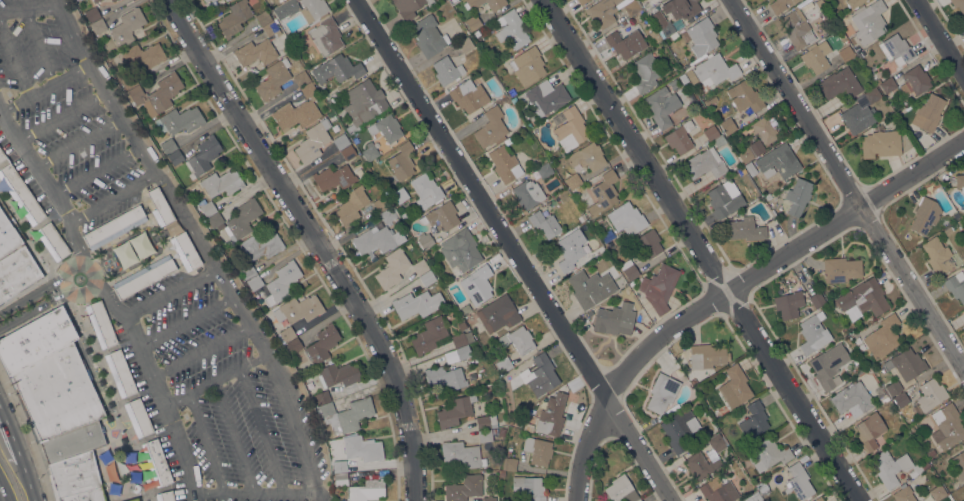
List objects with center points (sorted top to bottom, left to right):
building: (112, 0)
building: (224, 0)
building: (226, 0)
building: (95, 1)
building: (208, 1)
building: (582, 1)
building: (854, 3)
building: (819, 4)
building: (780, 5)
building: (958, 5)
building: (495, 6)
building: (409, 7)
building: (631, 7)
building: (681, 8)
road: (28, 9)
building: (302, 9)
building: (603, 12)
building: (824, 13)
building: (92, 14)
building: (234, 18)
building: (263, 18)
building: (473, 22)
building: (868, 22)
building: (663, 25)
building: (98, 26)
building: (127, 27)
building: (797, 29)
building: (271, 30)
building: (512, 30)
road: (70, 32)
building: (325, 36)
building: (428, 36)
building: (654, 36)
building: (702, 36)
road: (940, 38)
building: (625, 41)
building: (465, 45)
road: (39, 47)
building: (857, 49)
building: (896, 49)
building: (255, 52)
building: (846, 53)
building: (143, 56)
building: (816, 57)
road: (14, 59)
building: (528, 66)
building: (337, 69)
building: (446, 71)
building: (713, 71)
building: (646, 72)
building: (688, 72)
building: (273, 79)
building: (301, 79)
building: (915, 80)
building: (128, 81)
building: (674, 84)
building: (839, 84)
building: (888, 85)
road: (42, 90)
building: (309, 90)
building: (511, 92)
building: (157, 93)
building: (467, 95)
building: (872, 95)
building: (547, 97)
building: (744, 97)
building: (514, 100)
building: (712, 101)
building: (363, 105)
building: (662, 106)
building: (930, 112)
building: (296, 114)
building: (857, 118)
building: (179, 120)
building: (727, 125)
building: (386, 128)
building: (491, 128)
building: (571, 130)
building: (764, 130)
building: (711, 133)
building: (680, 138)
building: (734, 140)
building: (313, 141)
building: (341, 141)
building: (507, 141)
building: (719, 141)
building: (880, 144)
building: (168, 146)
building: (750, 150)
building: (348, 152)
building: (370, 153)
building: (2, 156)
building: (203, 156)
building: (587, 157)
building: (175, 158)
building: (375, 161)
building: (402, 161)
building: (778, 162)
building: (707, 163)
building: (505, 164)
road: (148, 167)
building: (750, 168)
building: (545, 170)
building: (334, 178)
building: (959, 180)
building: (573, 181)
building: (221, 183)
road: (847, 185)
building: (426, 189)
building: (527, 193)
building: (603, 193)
building: (21, 194)
building: (798, 196)
road: (112, 197)
building: (723, 201)
building: (381, 204)
building: (351, 205)
building: (160, 207)
building: (208, 209)
building: (389, 216)
building: (441, 216)
building: (925, 216)
building: (627, 218)
building: (241, 219)
building: (215, 220)
building: (599, 220)
building: (959, 222)
building: (544, 224)
building: (114, 227)
building: (746, 229)
building: (947, 231)
building: (8, 235)
building: (374, 240)
building: (53, 241)
road: (317, 241)
building: (424, 241)
building: (649, 243)
building: (140, 245)
building: (261, 246)
building: (460, 250)
road: (516, 250)
building: (186, 251)
building: (569, 251)
road: (704, 251)
building: (124, 254)
building: (940, 256)
road: (778, 261)
building: (420, 267)
building: (392, 268)
building: (841, 269)
building: (629, 270)
building: (247, 271)
building: (17, 272)
building: (427, 278)
building: (145, 279)
building: (255, 282)
building: (281, 282)
road: (221, 284)
building: (477, 284)
building: (955, 285)
road: (44, 287)
building: (659, 288)
building: (587, 289)
road: (168, 292)
building: (864, 297)
road: (110, 299)
building: (816, 299)
road: (48, 302)
building: (416, 304)
building: (788, 304)
building: (298, 309)
road: (239, 312)
building: (496, 314)
building: (611, 321)
building: (101, 324)
road: (183, 324)
building: (813, 333)
building: (287, 334)
building: (429, 335)
building: (882, 337)
building: (461, 339)
building: (517, 340)
building: (35, 341)
building: (857, 341)
building: (322, 344)
building: (294, 345)
building: (861, 347)
road: (197, 352)
building: (463, 352)
building: (706, 356)
building: (907, 364)
building: (504, 365)
building: (544, 371)
building: (678, 372)
building: (825, 372)
building: (121, 373)
building: (337, 374)
building: (445, 378)
road: (210, 381)
building: (692, 381)
building: (736, 384)
building: (893, 387)
building: (662, 393)
building: (58, 394)
building: (930, 394)
building: (320, 398)
building: (852, 399)
building: (900, 400)
road: (286, 409)
building: (455, 411)
building: (344, 415)
building: (552, 415)
building: (138, 417)
building: (753, 421)
building: (486, 422)
building: (947, 426)
road: (261, 429)
building: (679, 429)
building: (869, 431)
building: (502, 432)
road: (440, 435)
building: (486, 435)
road: (234, 436)
building: (72, 443)
road: (205, 443)
building: (716, 443)
road: (14, 446)
building: (962, 446)
building: (361, 448)
road: (587, 448)
building: (538, 450)
building: (931, 453)
building: (462, 454)
building: (767, 454)
road: (10, 461)
building: (157, 462)
building: (509, 464)
building: (958, 464)
building: (701, 465)
building: (338, 466)
building: (893, 467)
building: (501, 474)
building: (74, 476)
building: (778, 477)
railway: (7, 480)
building: (341, 480)
building: (798, 482)
building: (464, 488)
building: (528, 488)
road: (32, 490)
building: (367, 490)
building: (621, 490)
building: (715, 491)
road: (270, 492)
building: (937, 493)
building: (903, 494)
road: (206, 495)
building: (86, 496)
building: (165, 496)
road: (0, 498)
road: (319, 498)
building: (489, 498)
building: (755, 498)
building: (818, 499)
building: (136, 500)

